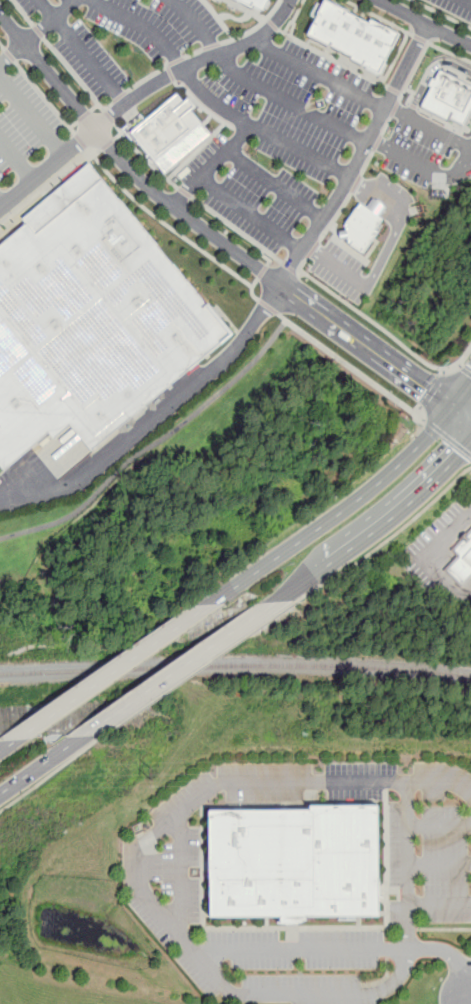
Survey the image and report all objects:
road: (469, 0)
building: (258, 4)
road: (236, 5)
road: (63, 8)
parking lot: (455, 8)
road: (22, 12)
road: (442, 14)
road: (243, 17)
road: (379, 17)
road: (267, 18)
road: (218, 19)
road: (293, 21)
road: (425, 23)
road: (272, 24)
road: (196, 25)
road: (254, 28)
road: (37, 31)
road: (35, 33)
parking lot: (122, 36)
building: (355, 36)
road: (419, 38)
road: (2, 46)
road: (211, 46)
road: (448, 52)
road: (193, 53)
road: (10, 55)
road: (395, 57)
road: (89, 59)
road: (176, 61)
road: (194, 64)
road: (413, 71)
road: (170, 73)
road: (429, 73)
road: (73, 74)
road: (319, 75)
road: (147, 77)
road: (384, 85)
road: (393, 89)
road: (67, 94)
road: (401, 94)
road: (120, 96)
road: (44, 97)
building: (449, 98)
road: (210, 100)
road: (291, 102)
road: (108, 105)
road: (101, 107)
road: (394, 108)
road: (84, 115)
road: (32, 116)
road: (110, 117)
road: (74, 124)
road: (385, 125)
road: (219, 126)
building: (170, 132)
road: (118, 135)
parking lot: (27, 136)
road: (80, 140)
road: (377, 142)
road: (107, 144)
parking lot: (284, 145)
road: (97, 152)
road: (142, 157)
road: (359, 157)
road: (17, 158)
road: (464, 160)
road: (367, 162)
road: (209, 164)
road: (47, 168)
road: (356, 183)
road: (274, 184)
road: (182, 191)
road: (2, 201)
road: (249, 212)
road: (335, 216)
road: (398, 219)
road: (167, 225)
building: (361, 227)
road: (235, 229)
road: (206, 230)
road: (312, 249)
road: (273, 255)
road: (302, 264)
road: (335, 265)
road: (289, 267)
road: (261, 271)
road: (299, 271)
road: (252, 293)
road: (267, 306)
building: (91, 320)
road: (386, 332)
road: (375, 352)
road: (351, 366)
road: (460, 366)
road: (444, 371)
road: (466, 371)
traffic signals: (426, 388)
road: (432, 389)
road: (463, 397)
road: (417, 409)
road: (156, 415)
road: (448, 437)
road: (151, 443)
traffic signals: (460, 454)
road: (341, 511)
road: (379, 526)
road: (387, 539)
road: (428, 560)
building: (462, 560)
railway: (235, 666)
road: (180, 667)
road: (113, 669)
road: (191, 671)
road: (6, 744)
road: (42, 764)
power tower: (150, 775)
road: (44, 777)
road: (441, 784)
road: (439, 826)
building: (294, 863)
road: (439, 865)
road: (180, 876)
road: (439, 904)
road: (444, 929)
road: (345, 951)
road: (200, 959)

